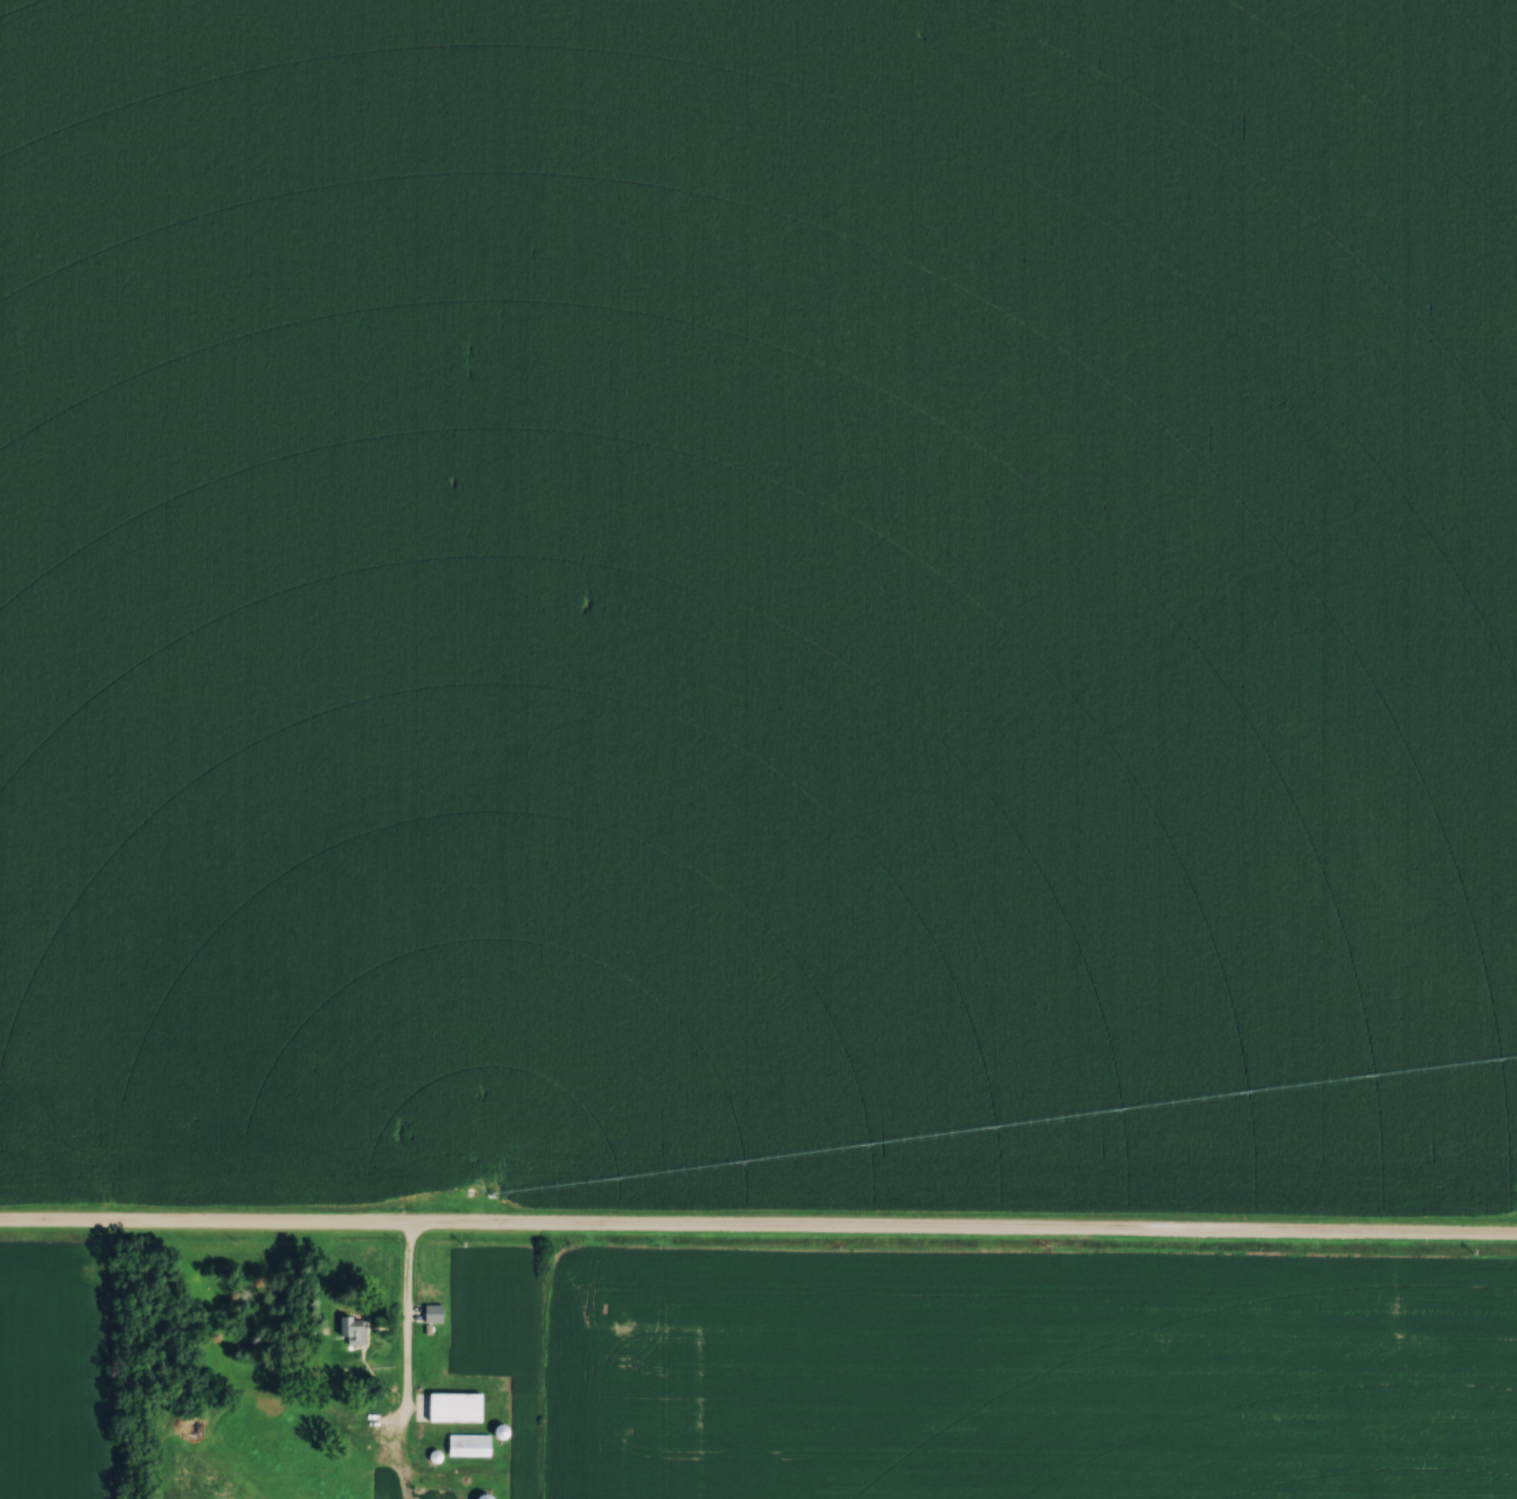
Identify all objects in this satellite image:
road: (758, 1225)
building: (434, 1309)
road: (406, 1313)
building: (354, 1326)
building: (460, 1402)
building: (363, 1416)
building: (472, 1441)
building: (377, 1482)
building: (457, 1493)

